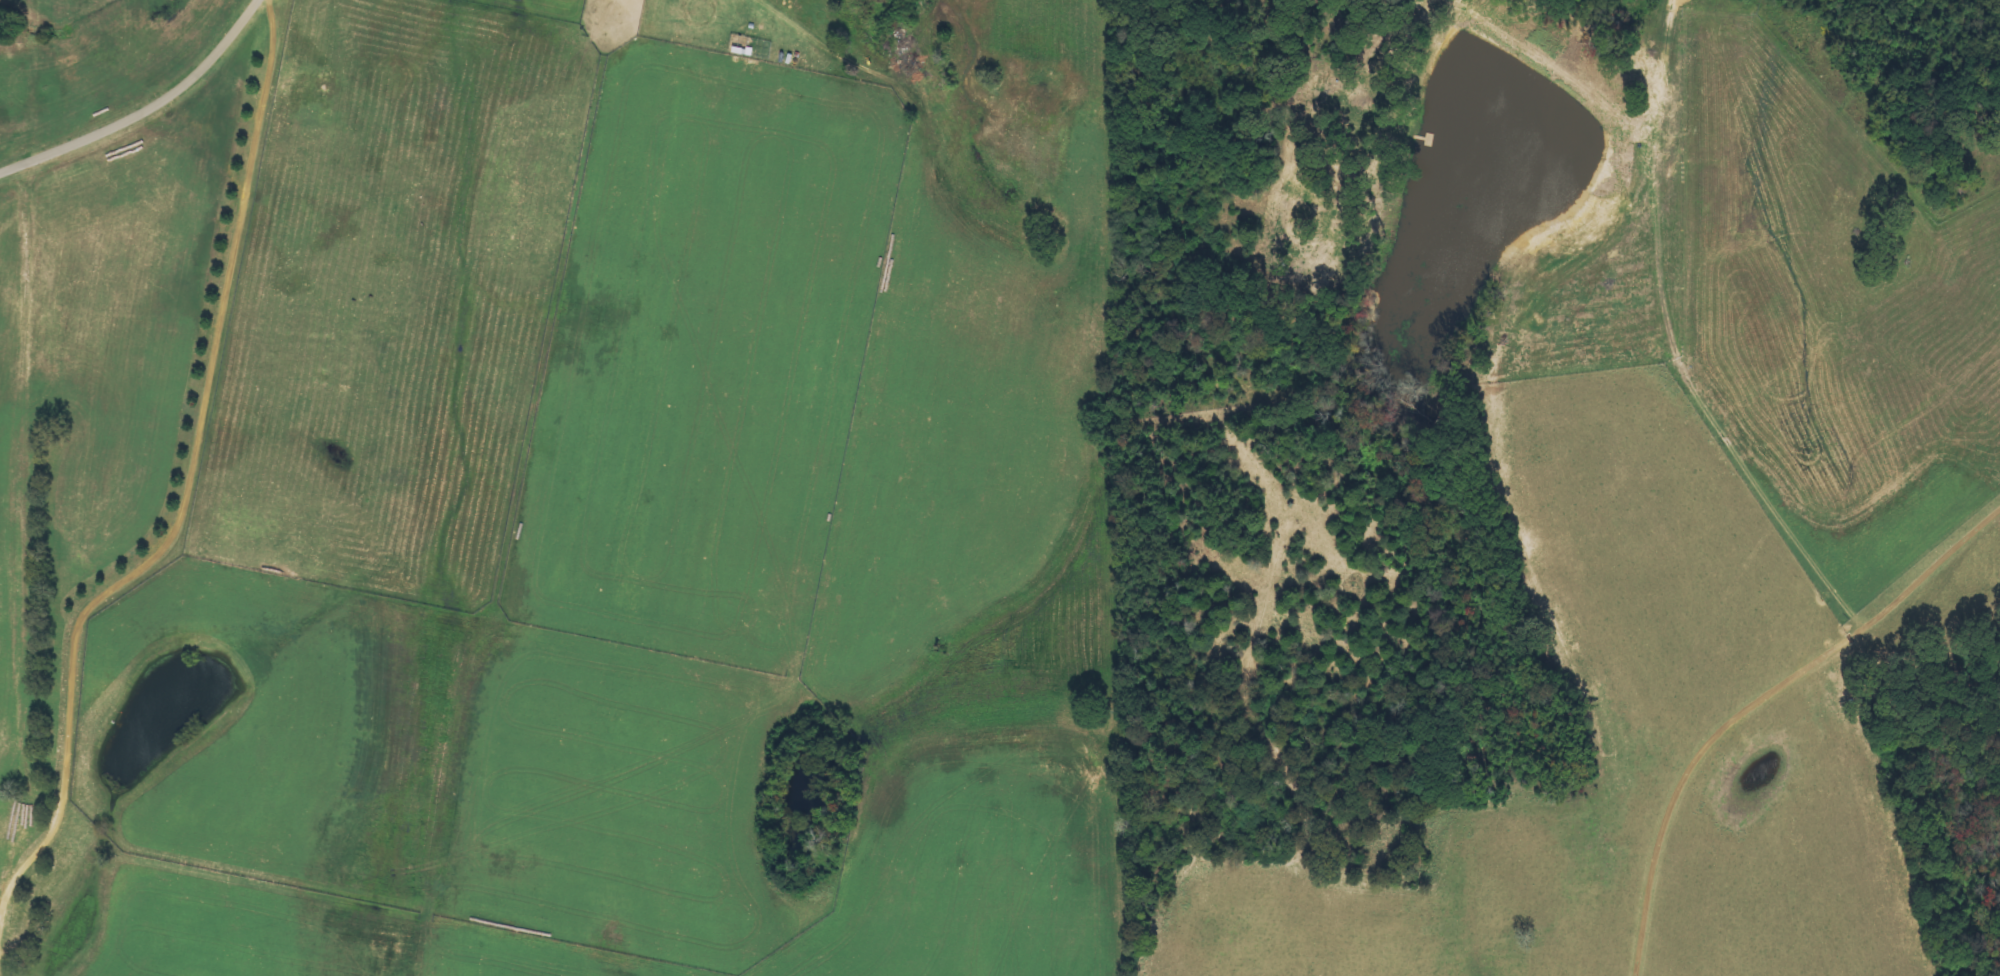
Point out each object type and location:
road: (142, 105)

